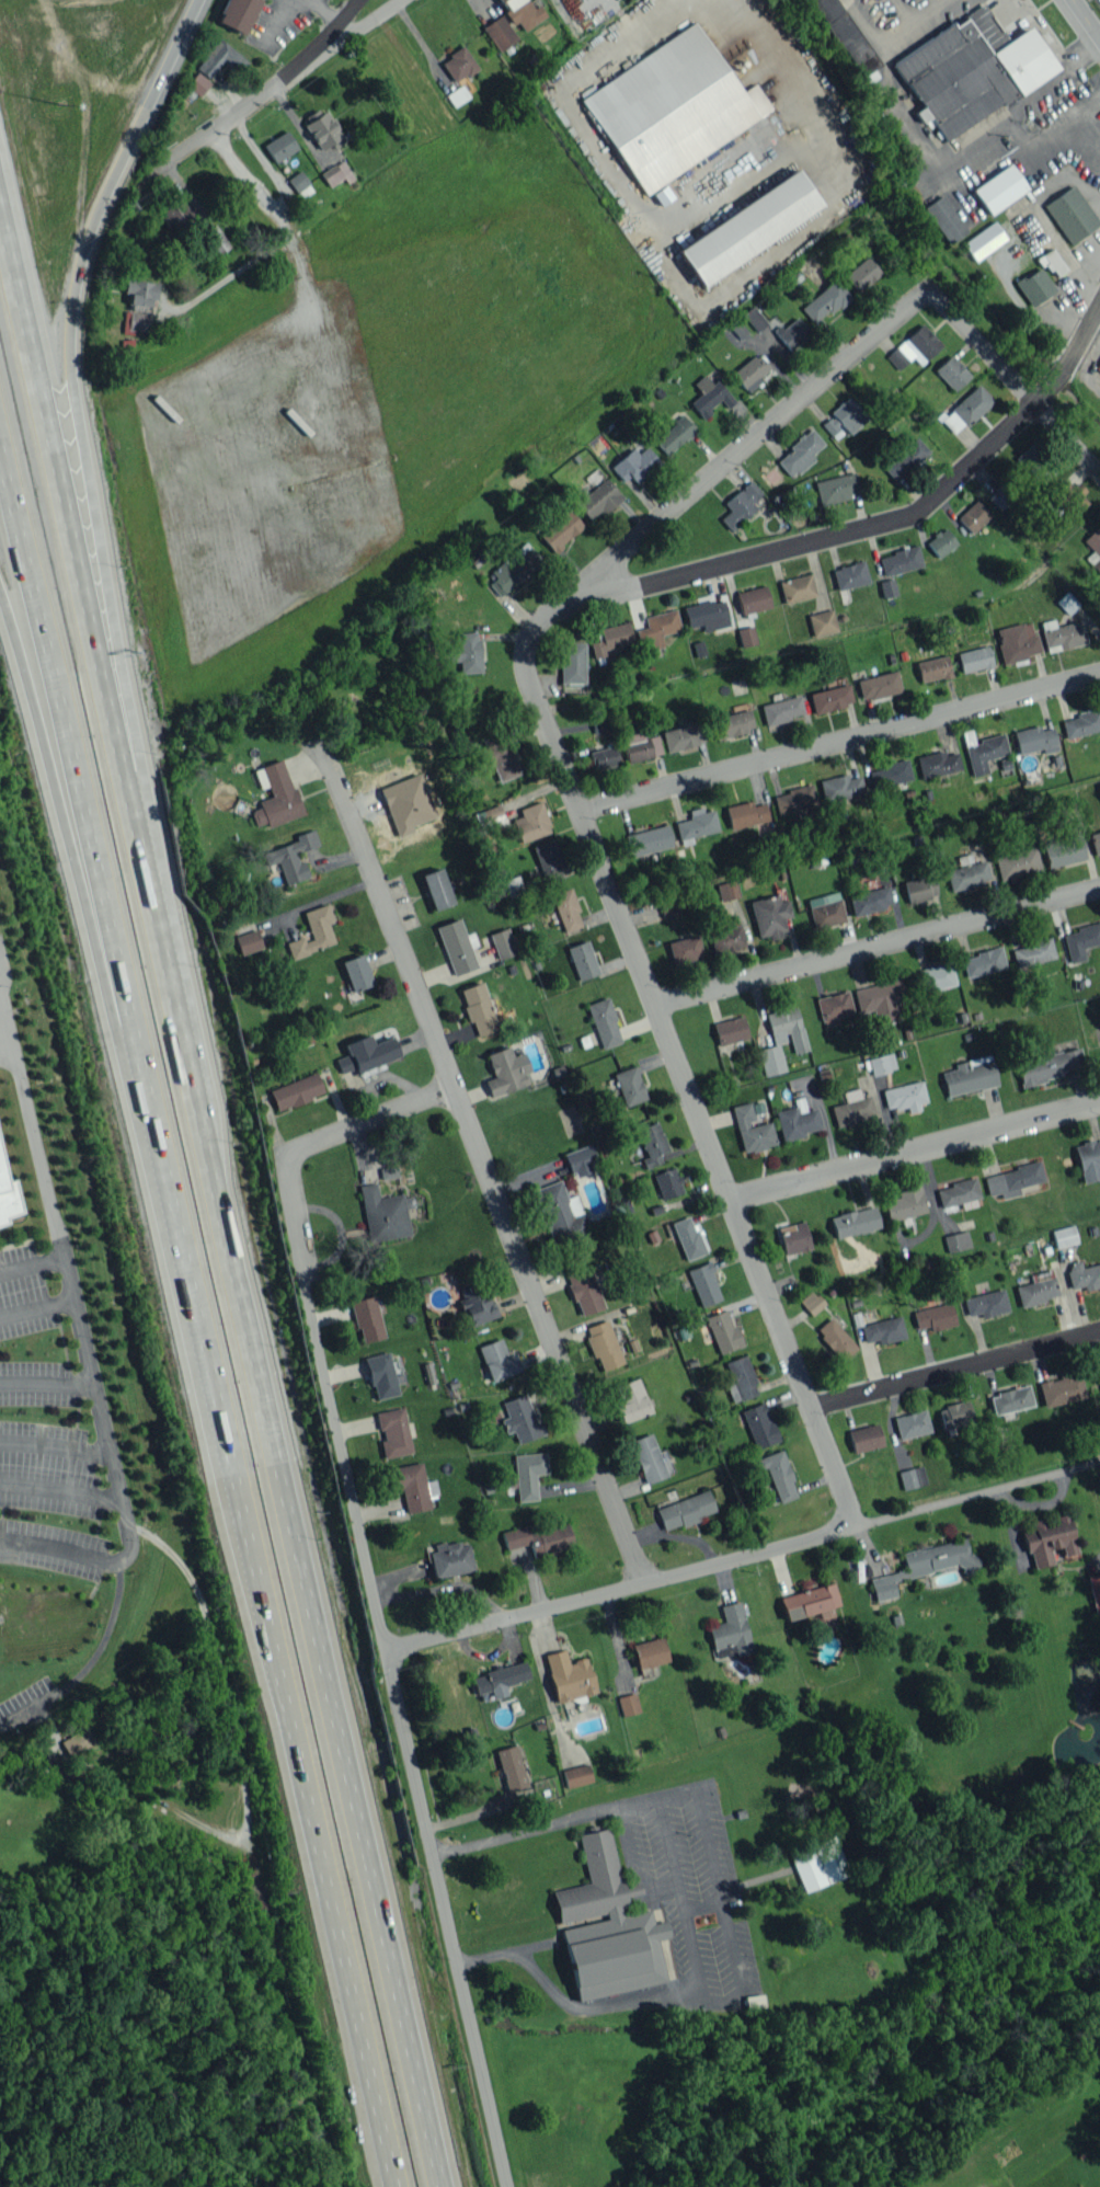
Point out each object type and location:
road: (912, 9)
building: (523, 12)
building: (237, 13)
road: (1086, 19)
building: (985, 27)
building: (499, 33)
building: (847, 37)
road: (319, 42)
building: (219, 58)
building: (458, 64)
building: (970, 73)
building: (197, 83)
road: (271, 85)
building: (672, 107)
road: (1076, 123)
building: (322, 129)
building: (279, 146)
road: (937, 164)
building: (336, 173)
building: (299, 183)
building: (998, 188)
road: (259, 194)
building: (176, 213)
building: (1070, 213)
building: (944, 218)
building: (747, 227)
building: (214, 239)
building: (983, 240)
building: (1052, 262)
road: (83, 264)
building: (861, 274)
road: (228, 277)
building: (1034, 286)
building: (139, 291)
road: (712, 297)
building: (824, 301)
building: (753, 318)
building: (791, 332)
building: (914, 347)
building: (1098, 366)
building: (951, 371)
building: (749, 373)
road: (42, 377)
road: (1015, 382)
building: (709, 396)
building: (965, 409)
building: (844, 417)
building: (674, 434)
building: (799, 454)
road: (727, 455)
building: (904, 458)
building: (635, 463)
building: (1034, 463)
building: (836, 488)
building: (1002, 494)
building: (1069, 496)
building: (598, 499)
building: (740, 504)
building: (973, 515)
building: (560, 529)
road: (853, 535)
building: (940, 541)
building: (900, 560)
building: (513, 568)
building: (849, 574)
building: (797, 587)
building: (887, 587)
building: (753, 599)
building: (1067, 602)
building: (707, 615)
building: (822, 621)
building: (656, 628)
building: (746, 636)
building: (1064, 636)
road: (35, 638)
building: (610, 638)
building: (1016, 641)
building: (467, 652)
building: (974, 659)
building: (572, 662)
building: (932, 668)
building: (878, 685)
building: (829, 698)
road: (31, 701)
building: (781, 709)
building: (731, 723)
building: (1080, 723)
building: (598, 724)
building: (683, 736)
road: (840, 740)
building: (1034, 740)
building: (640, 745)
building: (984, 753)
building: (604, 757)
building: (499, 759)
building: (937, 763)
building: (890, 774)
building: (1099, 786)
building: (840, 787)
building: (275, 794)
building: (794, 799)
building: (406, 803)
building: (745, 813)
building: (490, 817)
building: (530, 822)
building: (696, 824)
building: (648, 840)
building: (1095, 841)
building: (1062, 850)
building: (291, 856)
building: (548, 860)
building: (1016, 863)
building: (966, 874)
building: (918, 888)
building: (436, 889)
building: (726, 890)
building: (822, 897)
building: (870, 900)
building: (667, 906)
building: (566, 909)
building: (826, 914)
building: (769, 915)
building: (313, 931)
building: (725, 938)
building: (1080, 940)
building: (248, 941)
building: (502, 942)
building: (457, 946)
road: (878, 946)
building: (684, 949)
building: (1032, 952)
building: (582, 960)
building: (983, 961)
building: (355, 972)
building: (936, 976)
building: (880, 998)
building: (833, 1007)
building: (478, 1008)
building: (604, 1022)
building: (787, 1028)
building: (730, 1030)
building: (366, 1053)
building: (770, 1060)
building: (881, 1063)
building: (1049, 1064)
building: (505, 1070)
building: (969, 1075)
road: (683, 1077)
building: (628, 1085)
building: (295, 1090)
building: (851, 1093)
building: (904, 1096)
building: (851, 1110)
building: (797, 1120)
building: (752, 1129)
road: (32, 1141)
building: (651, 1143)
road: (915, 1153)
road: (480, 1156)
building: (581, 1159)
building: (1088, 1159)
building: (388, 1171)
building: (1012, 1179)
building: (667, 1182)
building: (956, 1192)
building: (8, 1198)
building: (904, 1204)
building: (561, 1213)
building: (382, 1214)
building: (853, 1222)
building: (1064, 1236)
building: (793, 1237)
building: (688, 1238)
building: (956, 1240)
building: (1084, 1274)
building: (703, 1283)
building: (583, 1287)
building: (1038, 1289)
building: (811, 1302)
building: (986, 1303)
building: (477, 1305)
road: (36, 1313)
building: (935, 1316)
road: (316, 1318)
building: (367, 1318)
building: (722, 1330)
building: (883, 1330)
building: (835, 1338)
building: (603, 1344)
building: (497, 1360)
building: (1099, 1365)
road: (265, 1370)
road: (953, 1370)
building: (381, 1375)
building: (738, 1377)
road: (46, 1389)
building: (1061, 1389)
building: (630, 1399)
building: (1010, 1399)
building: (954, 1415)
building: (519, 1418)
building: (912, 1423)
building: (759, 1424)
building: (393, 1432)
parking lot: (50, 1434)
road: (103, 1435)
building: (864, 1438)
road: (54, 1452)
building: (650, 1458)
building: (527, 1474)
building: (778, 1475)
building: (912, 1477)
building: (412, 1486)
road: (230, 1495)
road: (60, 1498)
building: (685, 1510)
building: (538, 1538)
building: (1049, 1539)
road: (742, 1556)
building: (925, 1565)
building: (1095, 1590)
building: (810, 1602)
building: (731, 1629)
building: (723, 1651)
building: (649, 1652)
building: (569, 1675)
building: (499, 1679)
building: (628, 1704)
building: (77, 1741)
building: (511, 1766)
building: (576, 1775)
building: (818, 1863)
road: (673, 1910)
road: (445, 1920)
building: (607, 1926)
building: (665, 1959)

